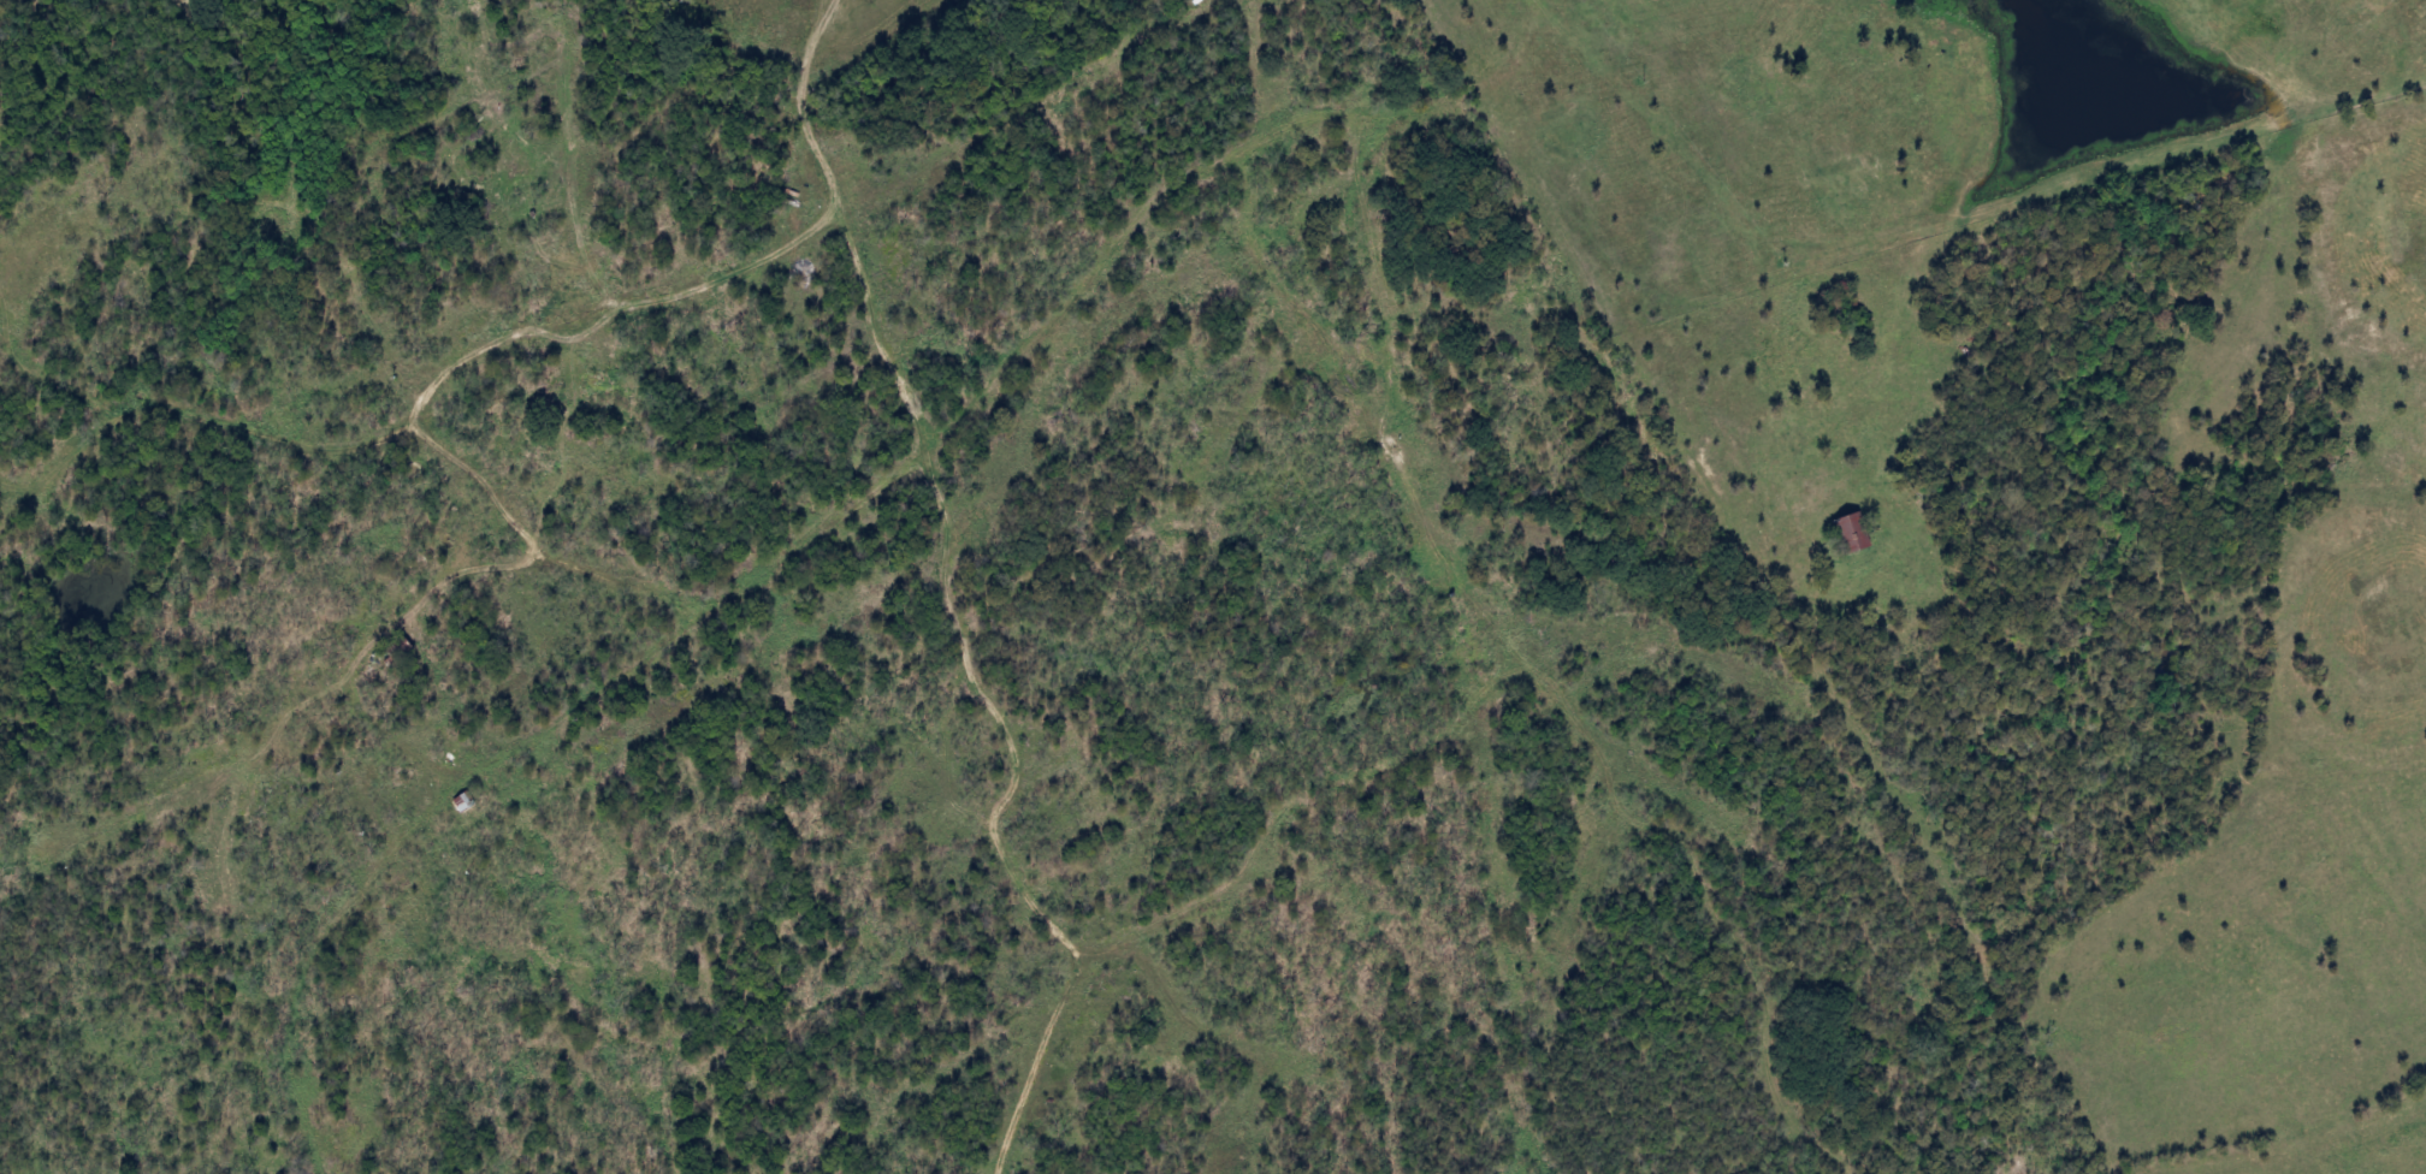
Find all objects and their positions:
building: (1845, 533)
building: (392, 651)

